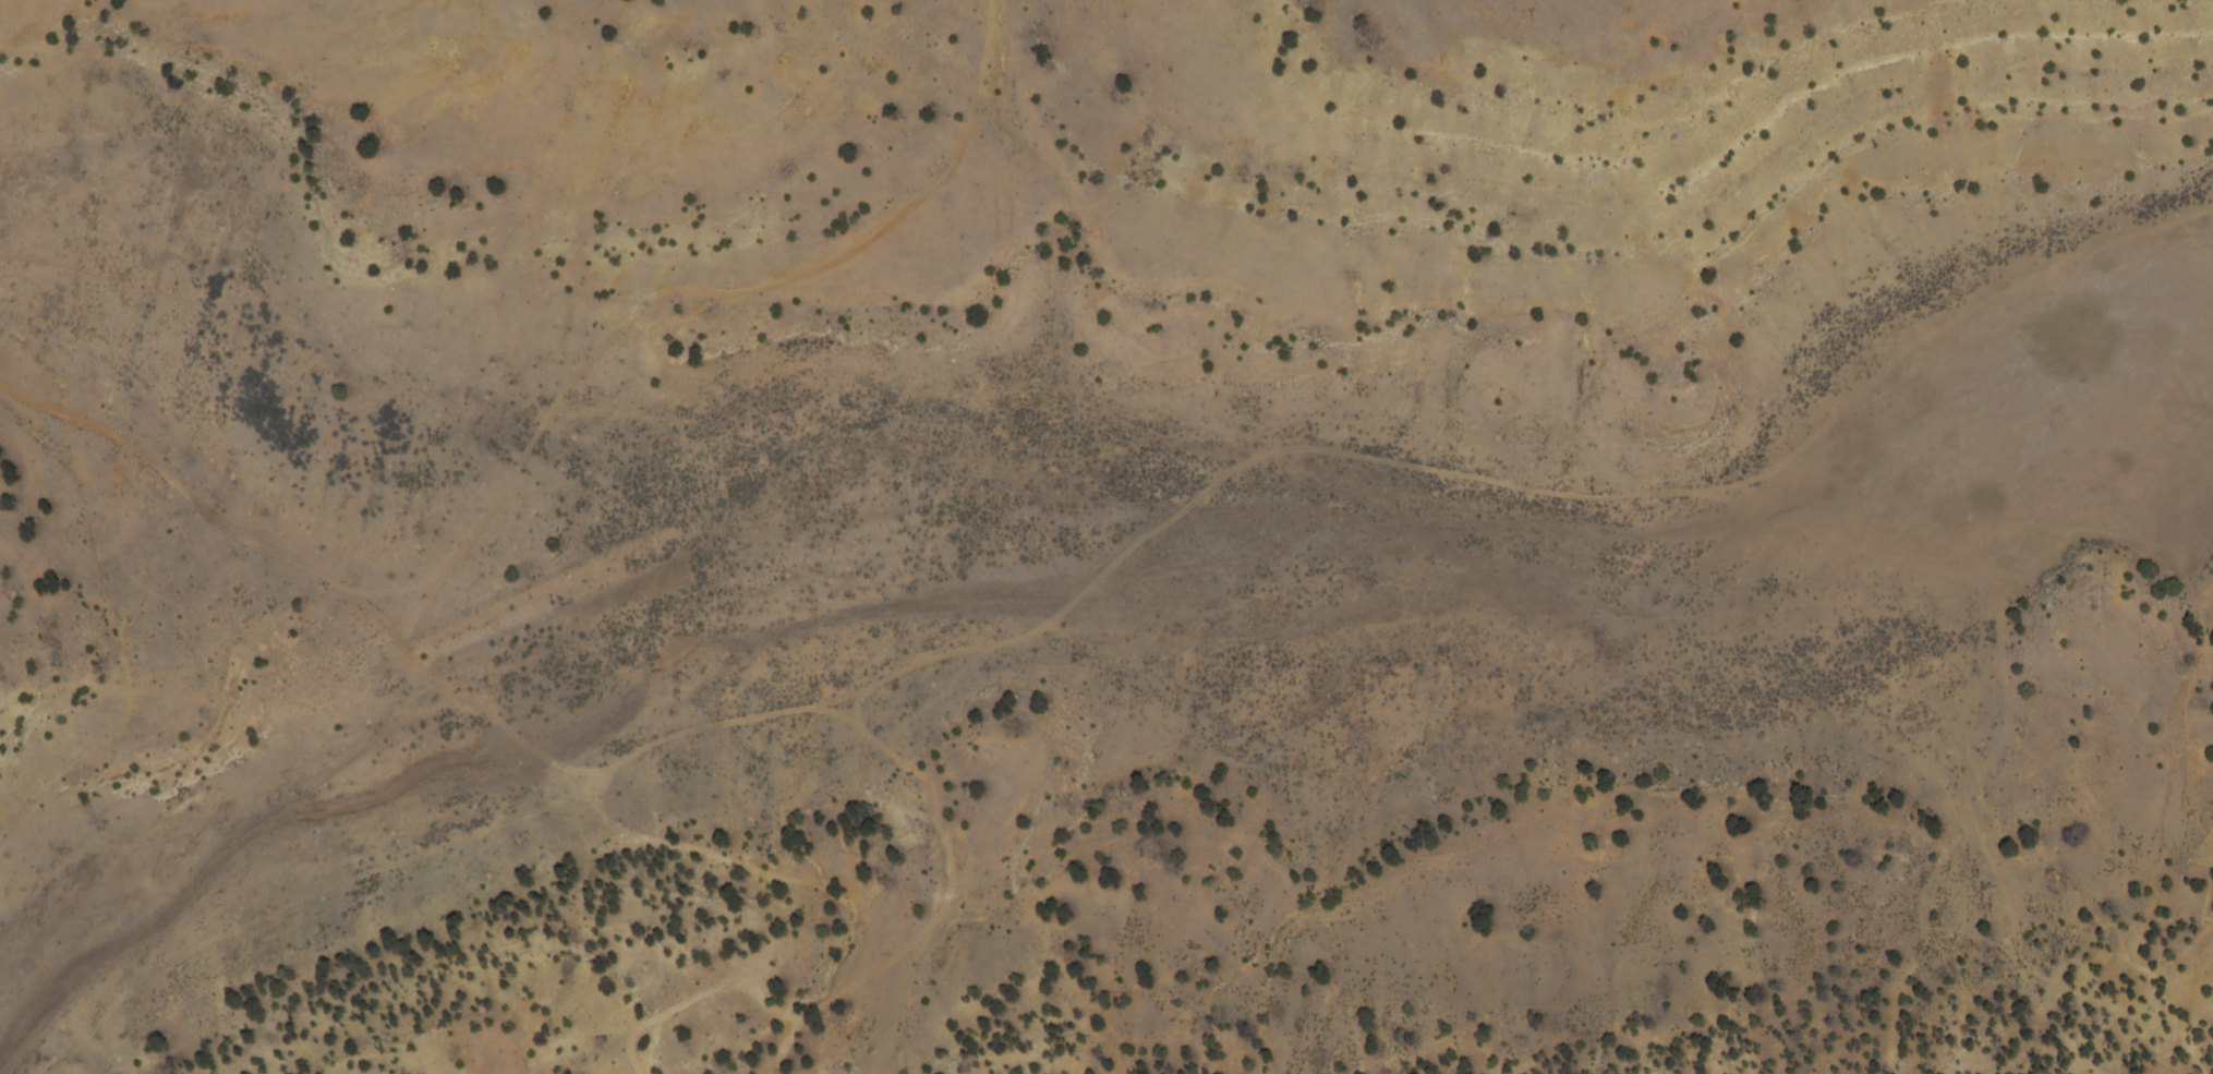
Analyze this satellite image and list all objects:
road: (102, 860)

